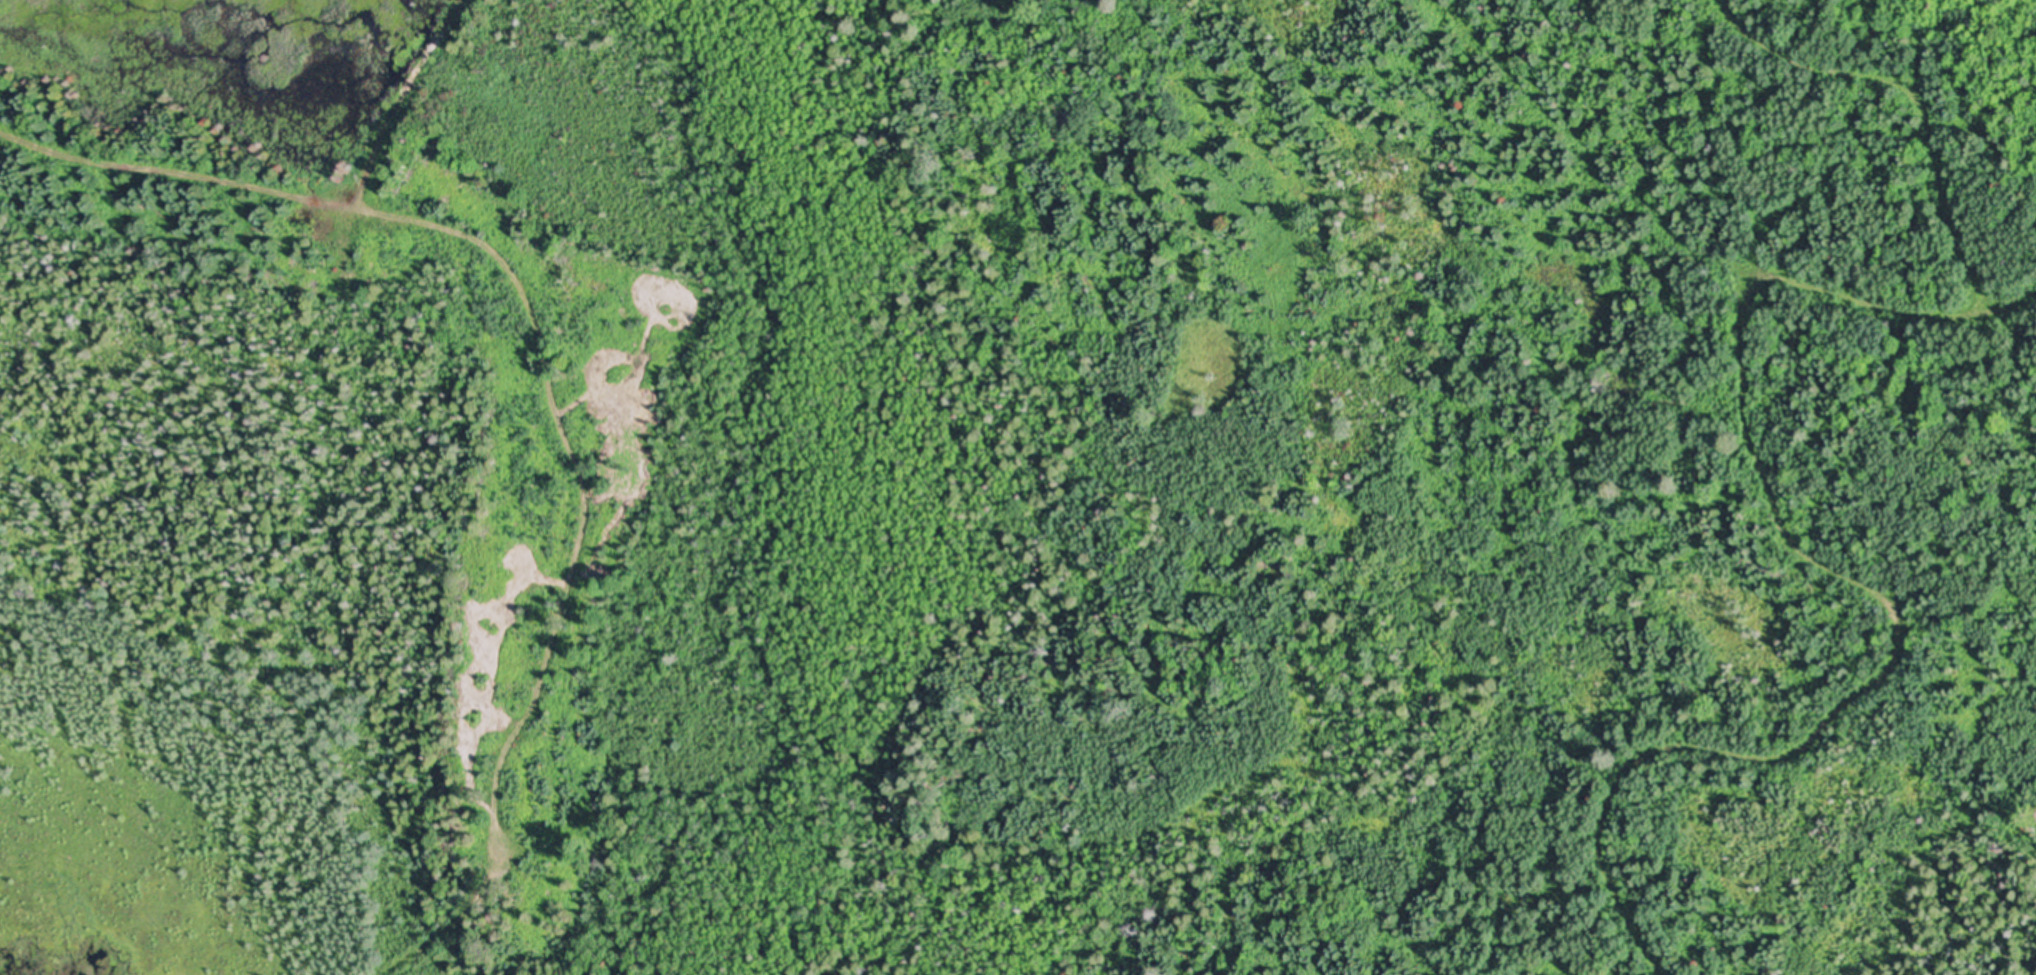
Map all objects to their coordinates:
road: (491, 393)

